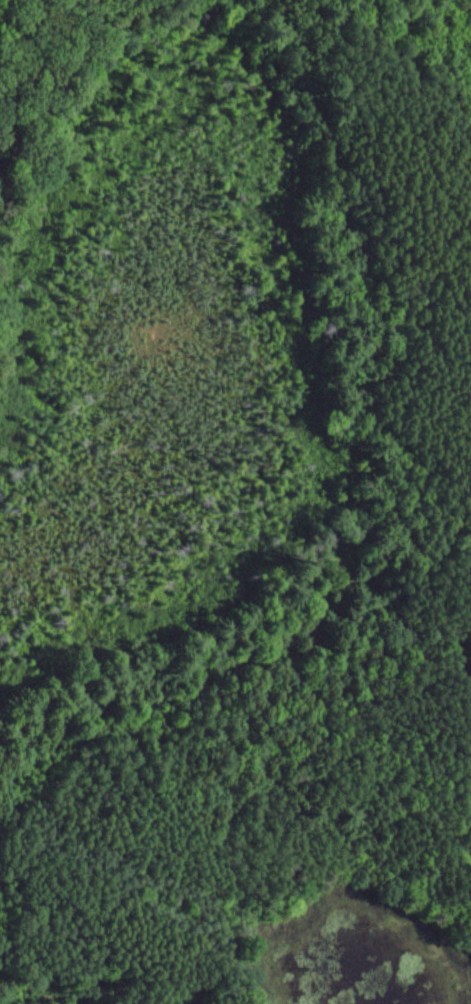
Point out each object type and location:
road: (407, 140)
road: (458, 714)

